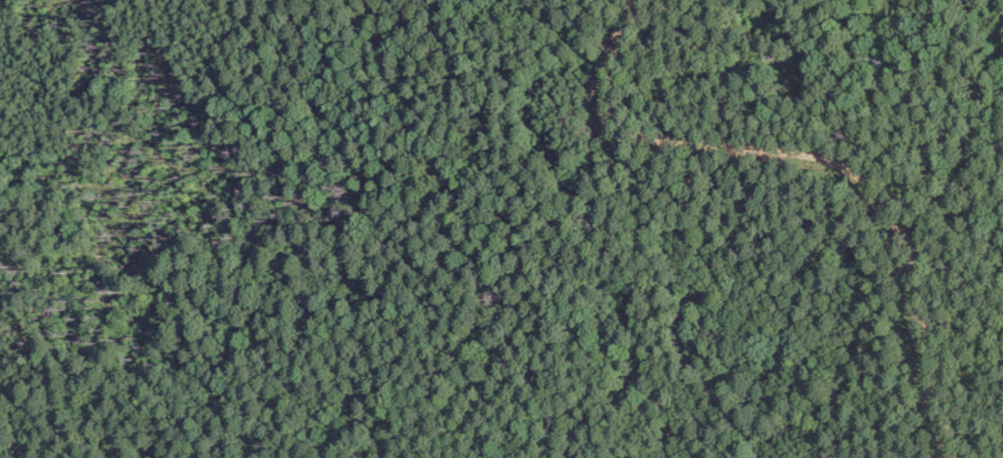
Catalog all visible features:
road: (695, 195)

